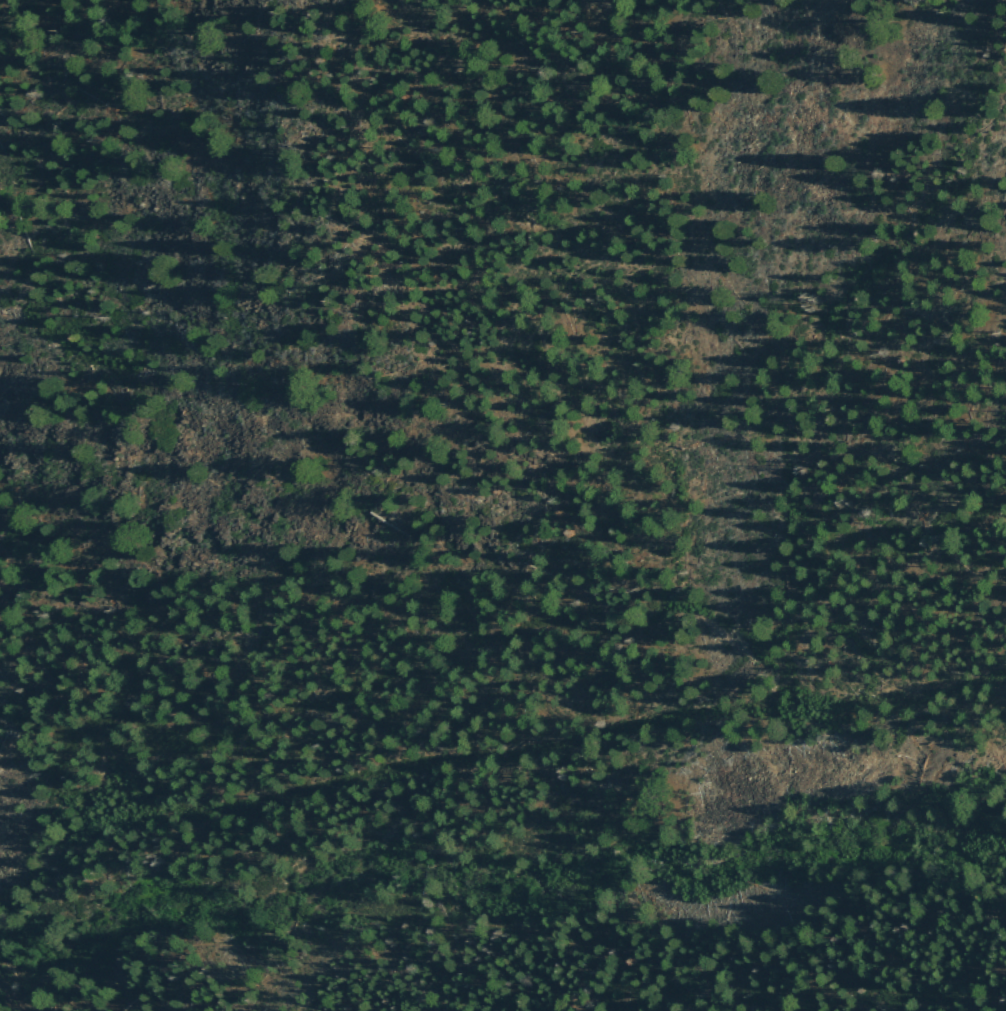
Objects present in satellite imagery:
road: (532, 931)

